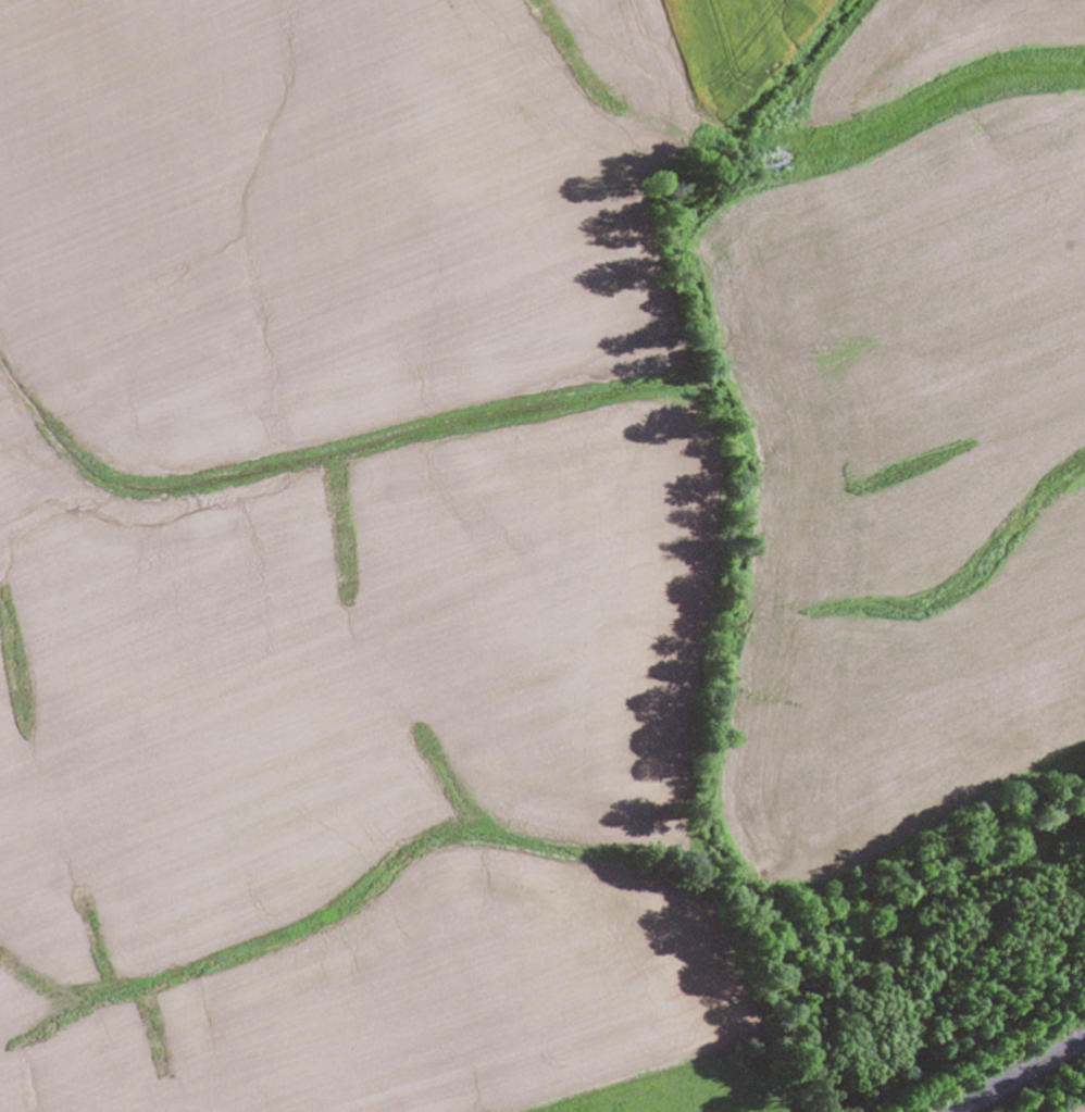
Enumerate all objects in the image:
railway: (1018, 1074)

